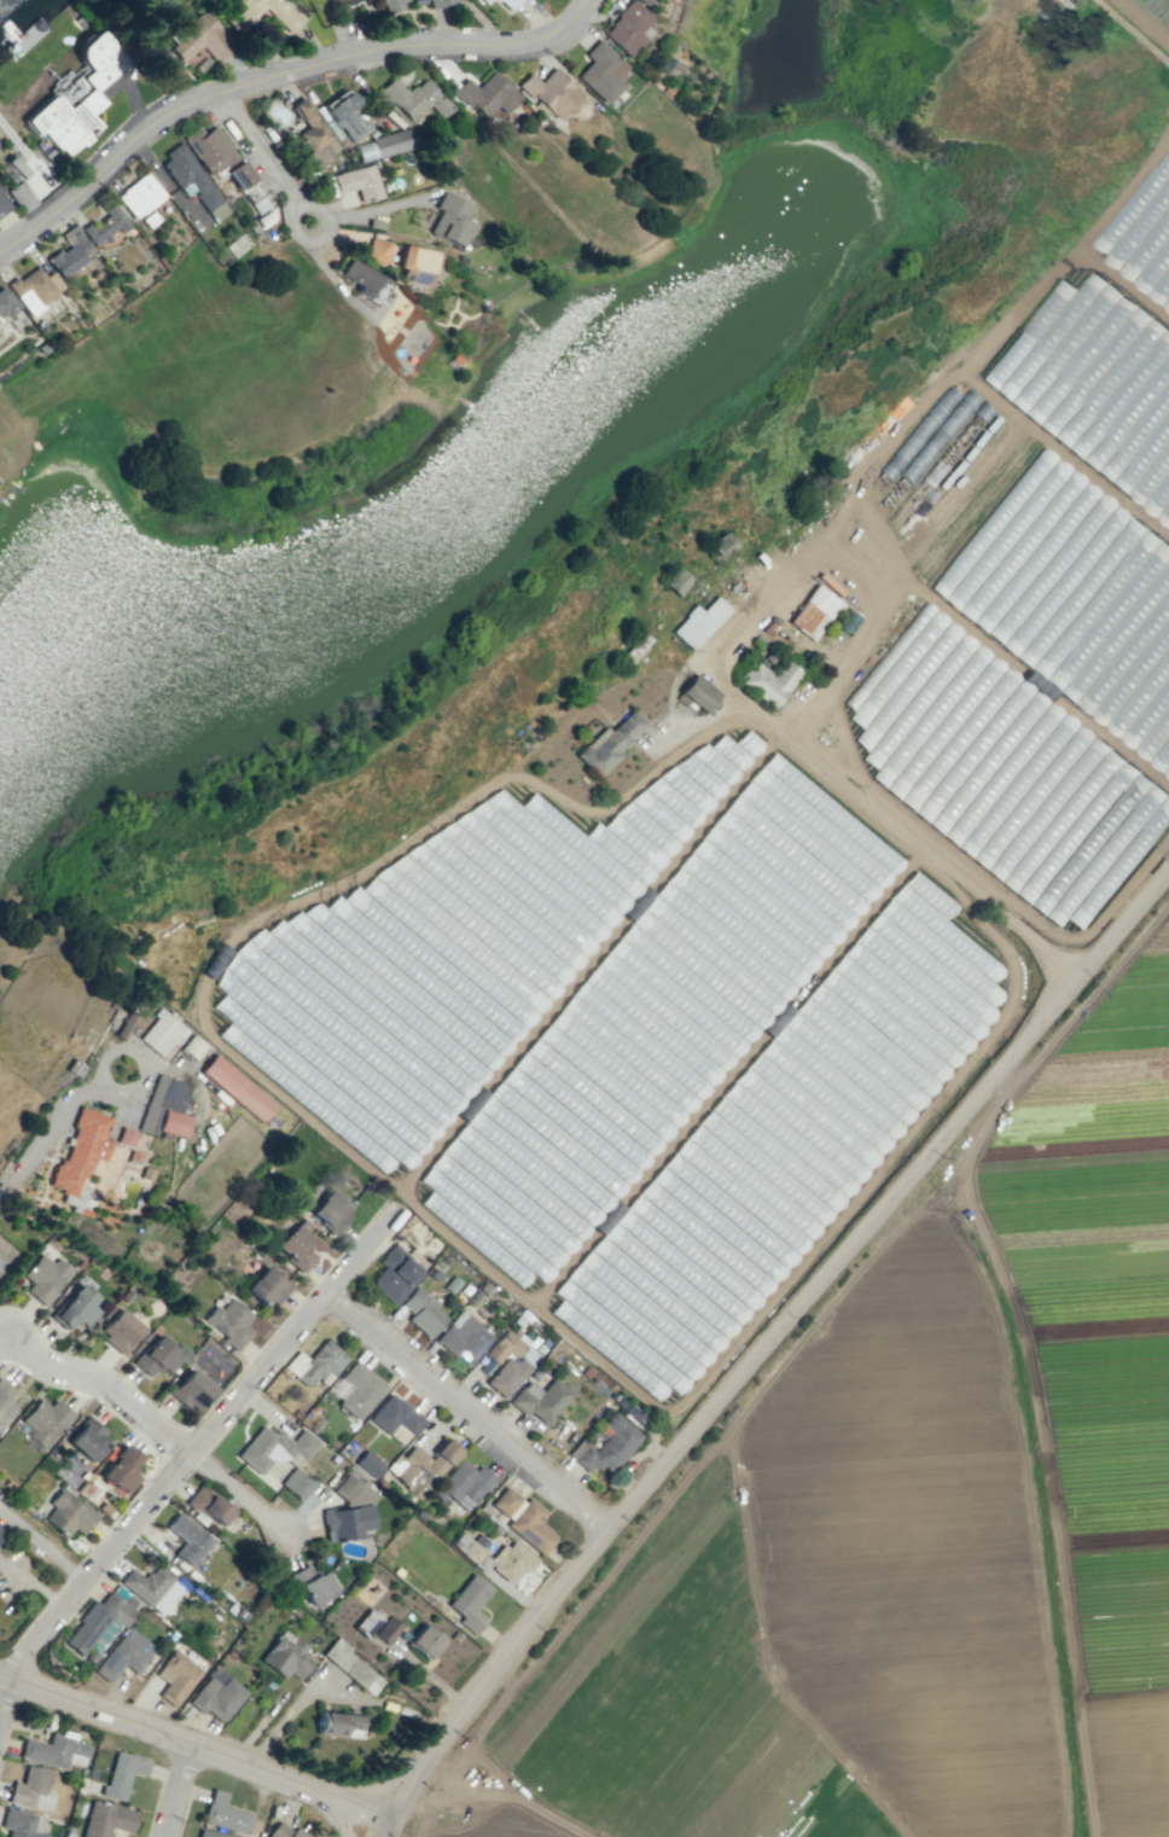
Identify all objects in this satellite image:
building: (409, 0)
building: (495, 0)
building: (485, 1)
building: (644, 1)
building: (431, 2)
building: (508, 4)
building: (390, 5)
building: (257, 12)
crop: (1150, 16)
building: (627, 28)
road: (1135, 29)
building: (199, 37)
crop: (798, 51)
building: (601, 69)
road: (273, 75)
building: (91, 93)
building: (485, 93)
building: (551, 93)
building: (414, 98)
building: (345, 115)
building: (314, 134)
building: (383, 145)
road: (260, 147)
building: (225, 165)
building: (16, 167)
building: (192, 180)
building: (357, 182)
building: (139, 194)
building: (21, 196)
building: (2, 207)
building: (150, 219)
building: (264, 219)
building: (450, 220)
road: (289, 223)
building: (251, 226)
building: (105, 228)
building: (237, 244)
building: (377, 250)
building: (69, 252)
building: (412, 263)
building: (364, 280)
building: (33, 289)
building: (1092, 302)
building: (11, 310)
building: (41, 347)
park: (284, 478)
building: (676, 581)
road: (900, 587)
building: (813, 612)
building: (698, 622)
crop: (465, 626)
building: (1019, 647)
building: (769, 681)
building: (696, 693)
building: (1123, 708)
crop: (622, 726)
building: (609, 743)
building: (1098, 851)
road: (930, 854)
building: (1014, 878)
building: (120, 1023)
building: (161, 1033)
building: (191, 1046)
building: (235, 1087)
building: (292, 1088)
building: (164, 1106)
park: (112, 1110)
road: (51, 1121)
building: (124, 1137)
building: (80, 1153)
crop: (903, 1209)
building: (330, 1210)
building: (296, 1248)
building: (394, 1275)
building: (43, 1277)
building: (266, 1286)
building: (74, 1307)
building: (421, 1310)
building: (228, 1322)
building: (118, 1330)
building: (463, 1337)
road: (770, 1337)
building: (155, 1356)
building: (508, 1361)
building: (314, 1362)
building: (354, 1389)
building: (190, 1390)
road: (99, 1391)
building: (540, 1399)
building: (5, 1401)
road: (463, 1413)
building: (392, 1415)
building: (43, 1420)
building: (87, 1438)
road: (192, 1438)
building: (606, 1446)
building: (273, 1447)
building: (367, 1464)
building: (423, 1465)
building: (121, 1470)
building: (296, 1483)
building: (463, 1484)
building: (344, 1487)
road: (234, 1488)
building: (504, 1500)
building: (208, 1505)
building: (66, 1513)
building: (345, 1522)
building: (530, 1527)
building: (0, 1530)
building: (187, 1539)
road: (42, 1545)
building: (495, 1557)
building: (312, 1583)
building: (152, 1587)
building: (469, 1603)
building: (95, 1621)
building: (386, 1629)
building: (424, 1641)
building: (123, 1655)
building: (285, 1656)
building: (351, 1667)
building: (175, 1676)
road: (2, 1678)
road: (2, 1690)
building: (216, 1694)
building: (338, 1723)
building: (54, 1750)
road: (196, 1750)
building: (121, 1773)
building: (30, 1789)
road: (181, 1792)
park: (1132, 1808)
building: (223, 1814)
road: (332, 1814)
building: (105, 1819)
building: (18, 1824)
road: (384, 1827)
building: (283, 1831)
building: (208, 1833)

